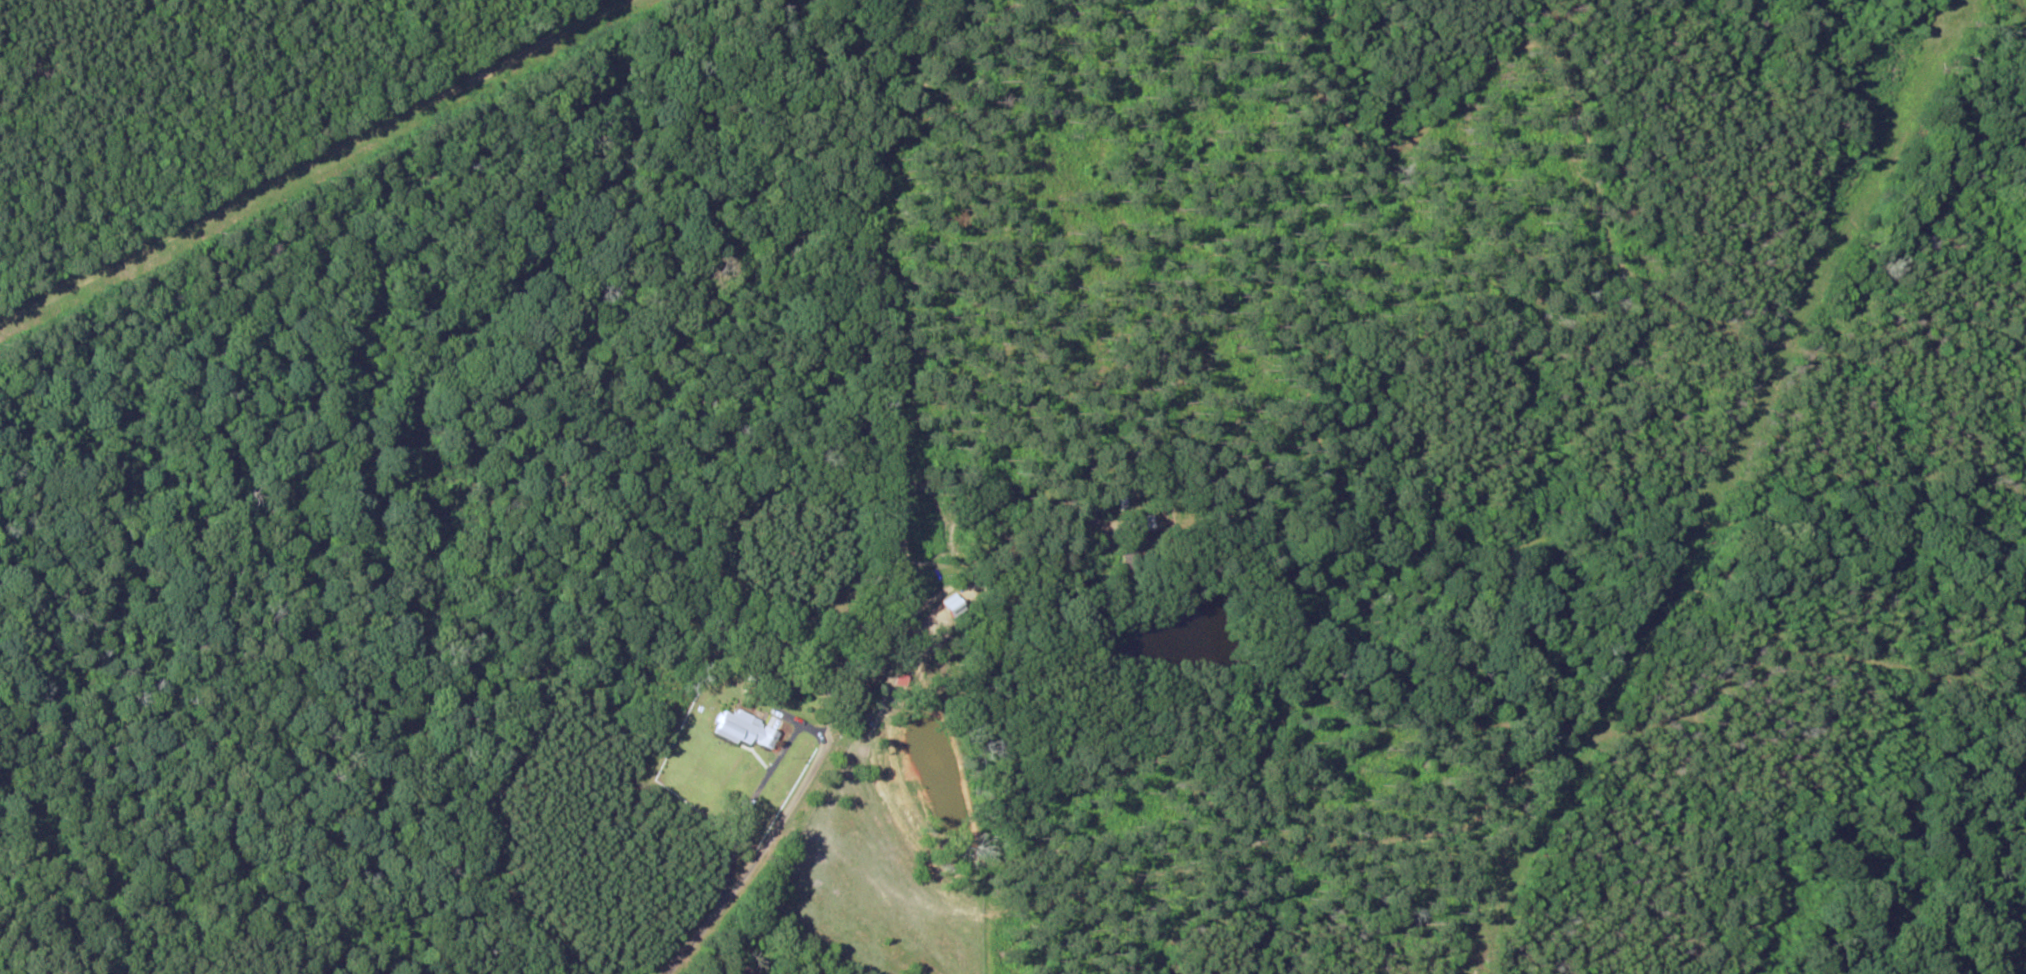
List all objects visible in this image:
building: (956, 605)
building: (747, 729)
road: (737, 832)

